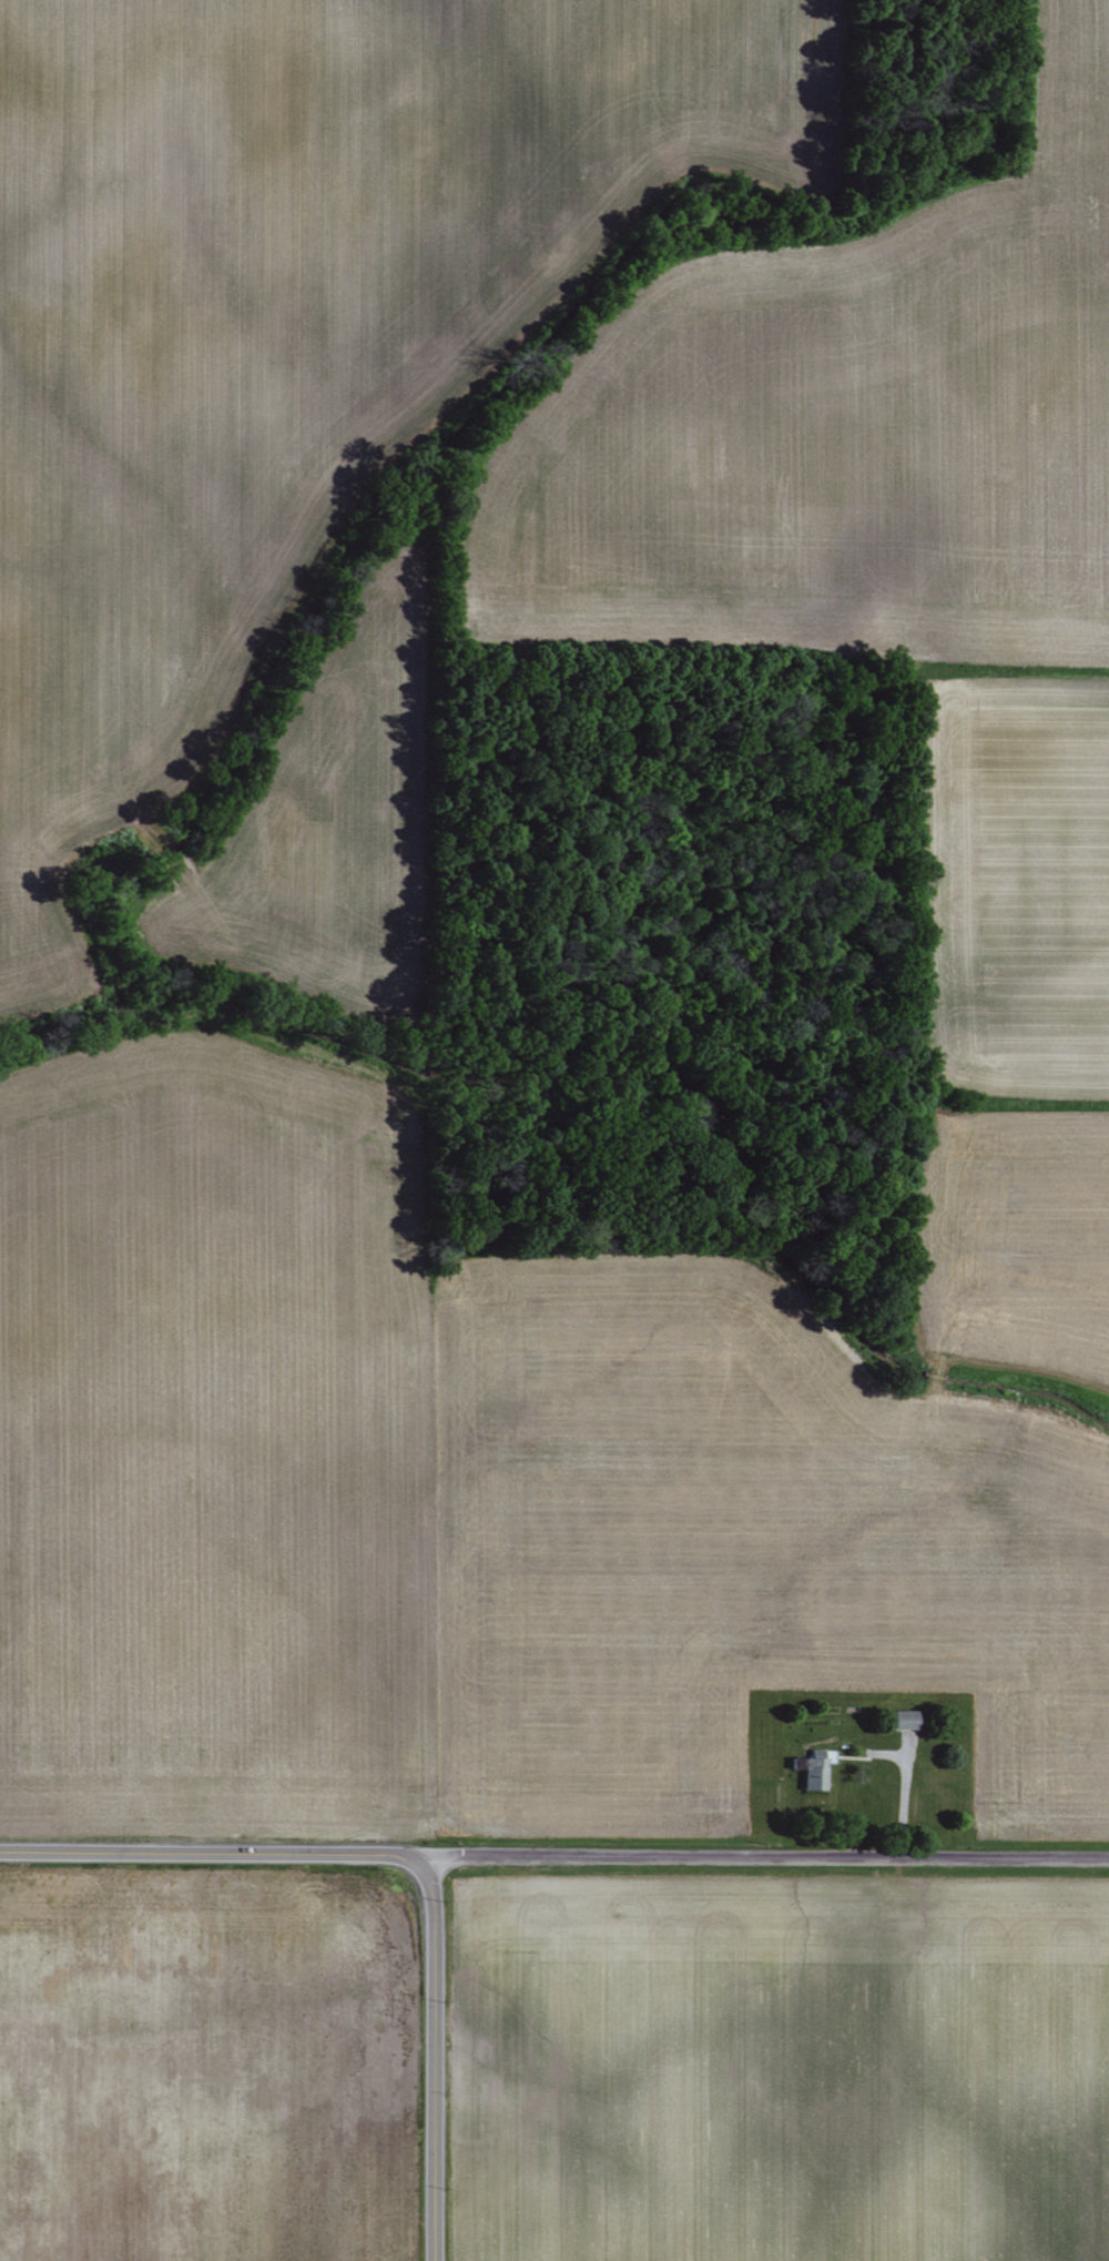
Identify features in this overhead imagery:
building: (906, 1720)
building: (820, 1771)
road: (215, 1855)
road: (769, 1857)
road: (430, 2059)

